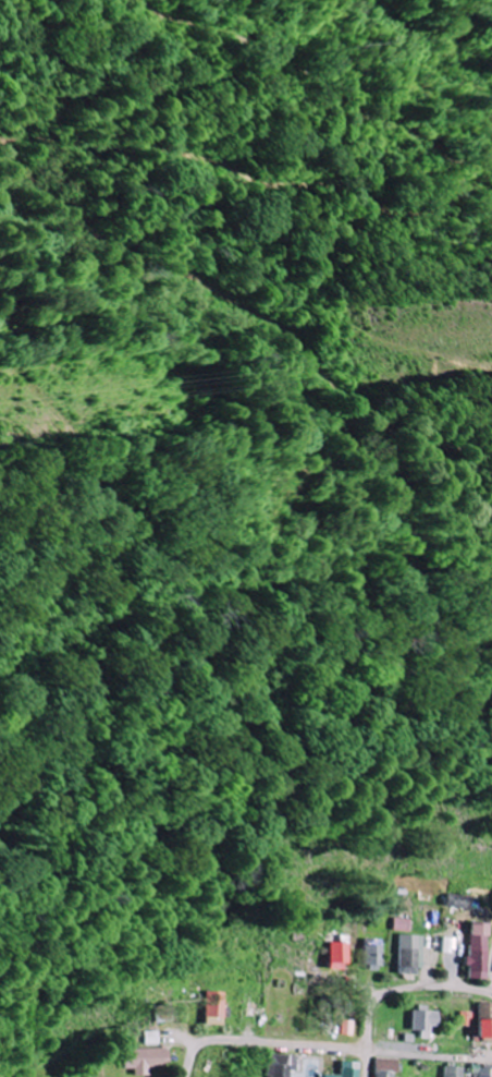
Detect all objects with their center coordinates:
building: (458, 900)
building: (405, 924)
building: (479, 951)
building: (342, 953)
building: (413, 954)
building: (376, 955)
road: (396, 992)
building: (216, 1007)
building: (466, 1018)
building: (426, 1020)
building: (485, 1020)
building: (349, 1027)
building: (151, 1037)
road: (328, 1046)
building: (146, 1060)
building: (282, 1065)
building: (385, 1067)
building: (347, 1069)
building: (454, 1072)
building: (485, 1072)

